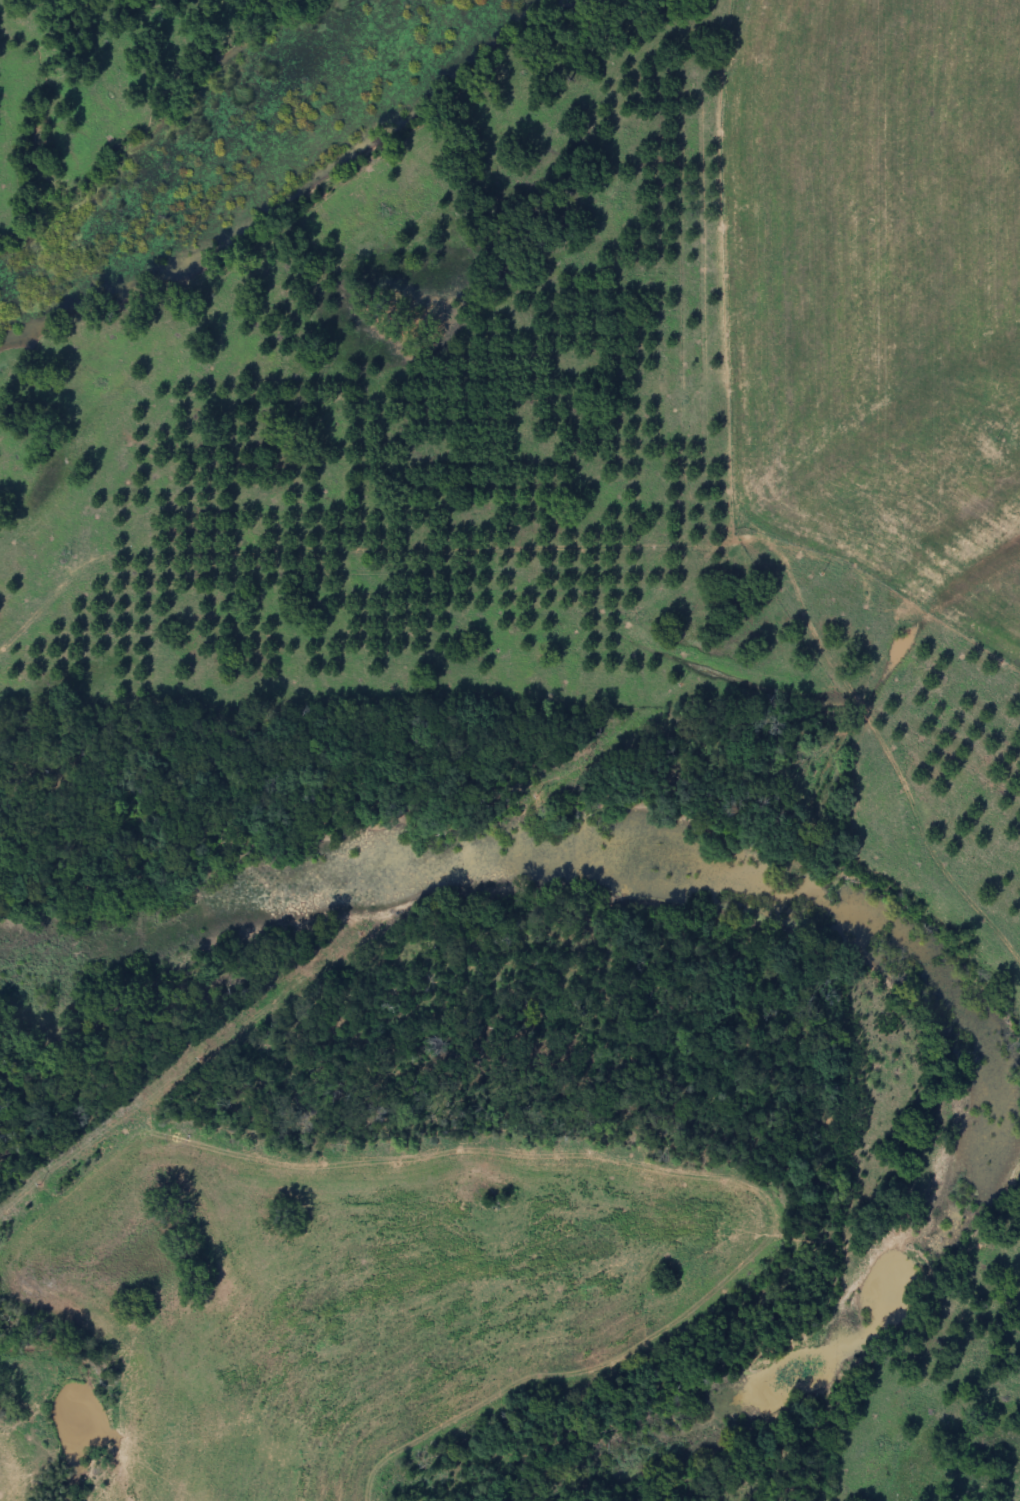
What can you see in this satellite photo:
road: (782, 482)

